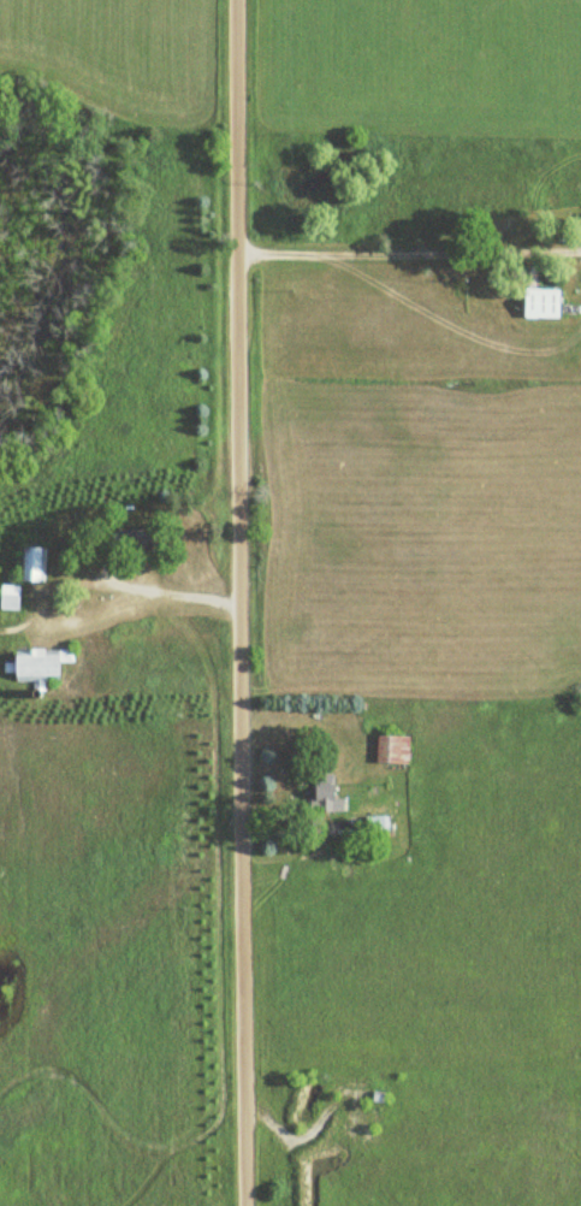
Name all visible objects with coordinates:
road: (409, 254)
building: (543, 303)
building: (137, 540)
building: (32, 564)
building: (10, 598)
road: (241, 602)
building: (392, 749)
building: (326, 792)

